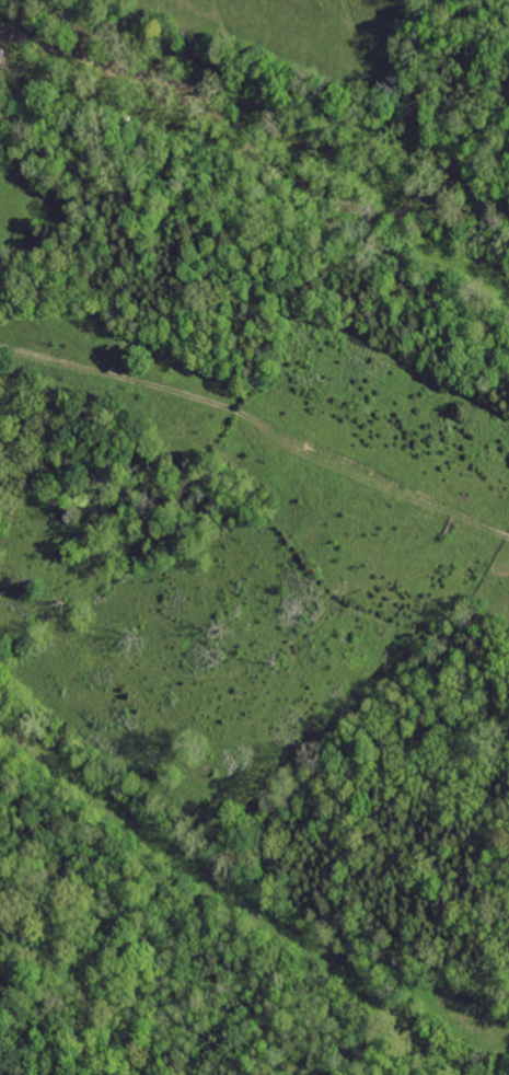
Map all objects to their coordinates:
road: (2, 58)
road: (258, 428)

